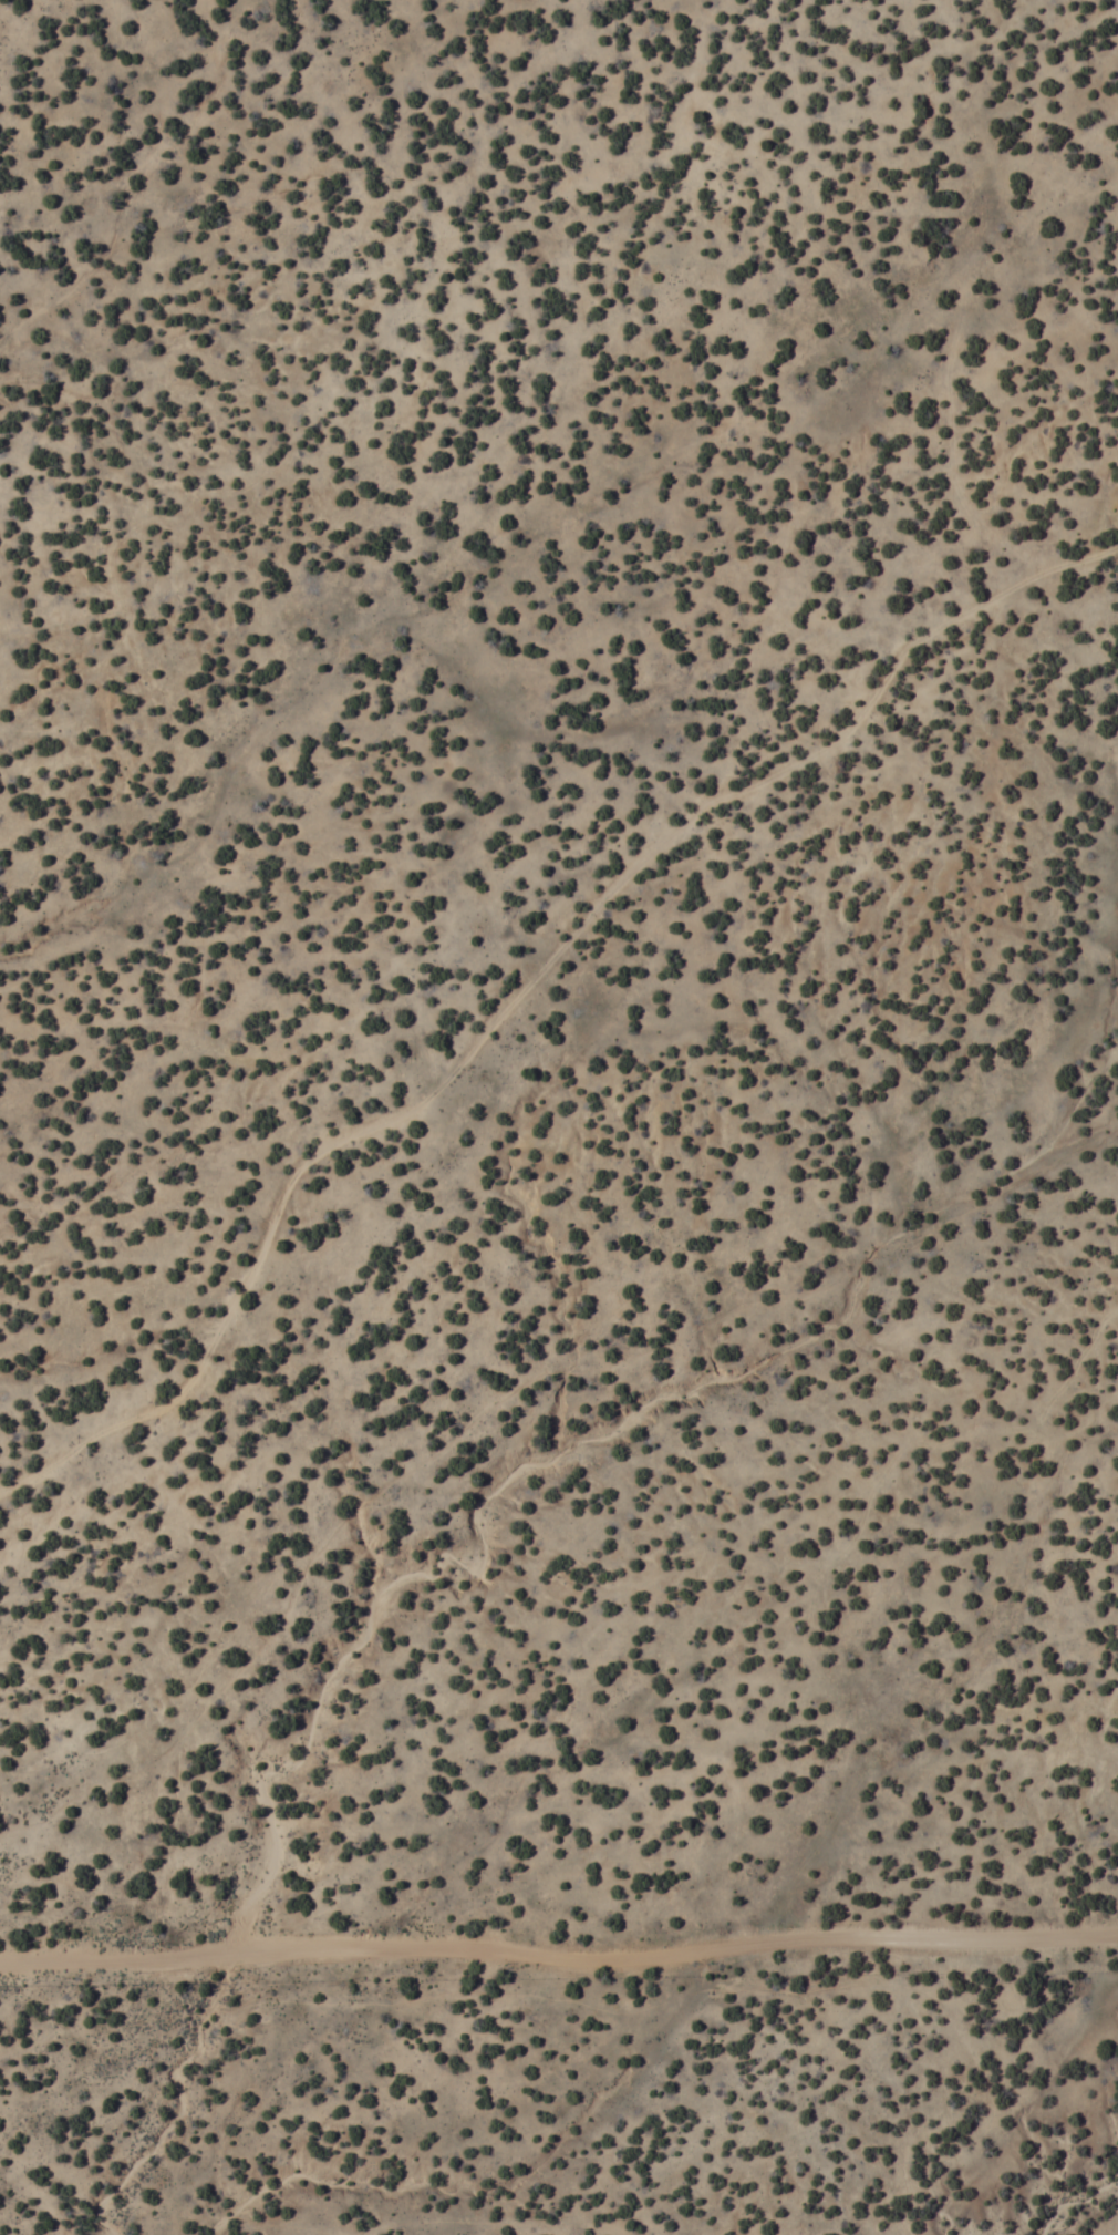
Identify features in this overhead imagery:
road: (547, 996)
road: (559, 1955)

